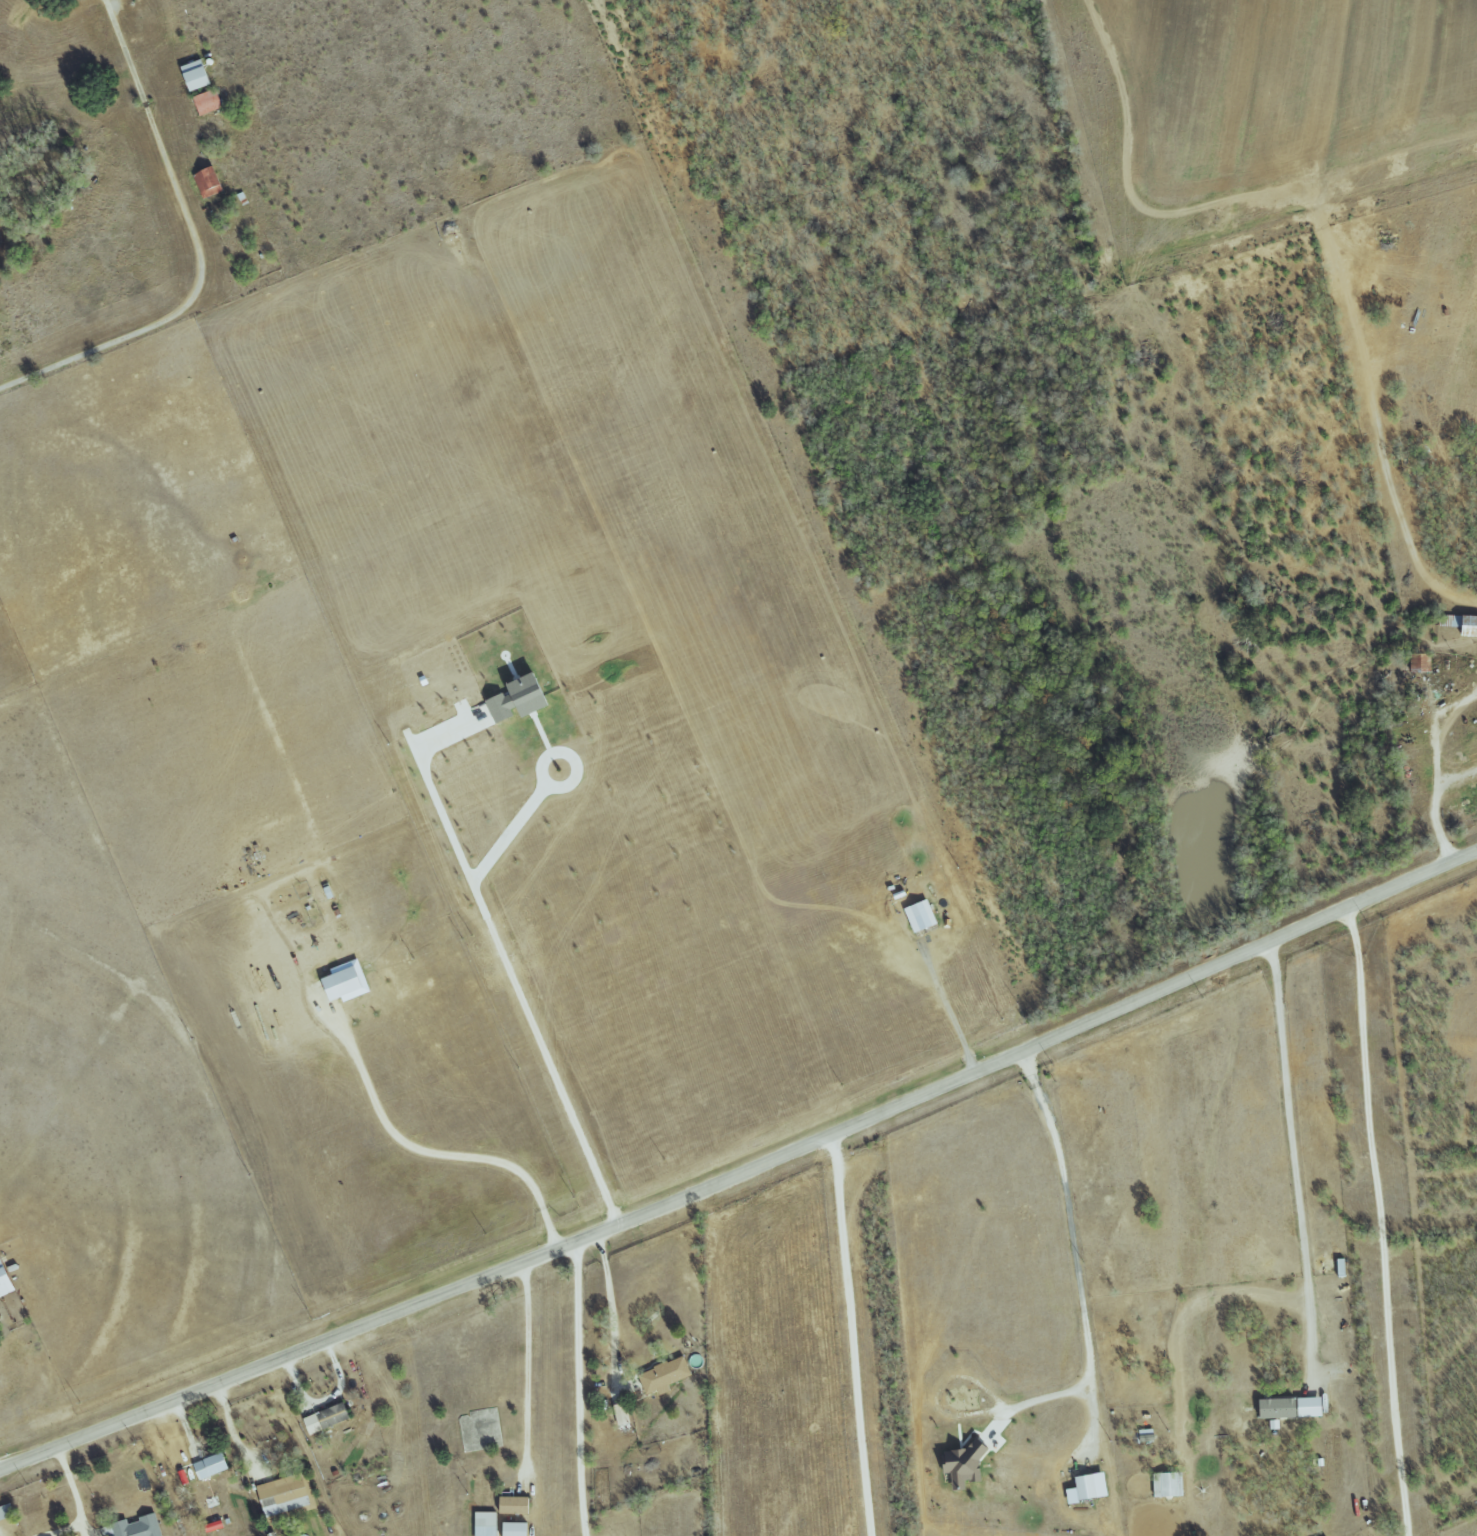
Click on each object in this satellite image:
building: (197, 75)
building: (207, 101)
building: (208, 182)
road: (195, 247)
building: (1463, 625)
building: (522, 698)
road: (1441, 741)
road: (576, 767)
road: (1456, 789)
road: (508, 833)
road: (1437, 833)
building: (916, 916)
road: (506, 964)
building: (345, 983)
road: (949, 1013)
road: (433, 1156)
road: (1293, 1163)
road: (744, 1174)
road: (1379, 1221)
road: (1075, 1269)
building: (6, 1279)
road: (611, 1306)
road: (850, 1335)
road: (526, 1369)
building: (665, 1375)
road: (578, 1389)
road: (324, 1401)
building: (1284, 1408)
building: (622, 1413)
building: (327, 1418)
road: (233, 1435)
building: (964, 1463)
building: (214, 1465)
building: (1090, 1487)
road: (74, 1491)
building: (283, 1495)
building: (516, 1505)
building: (7, 1511)
building: (486, 1523)
building: (134, 1527)
building: (517, 1529)

